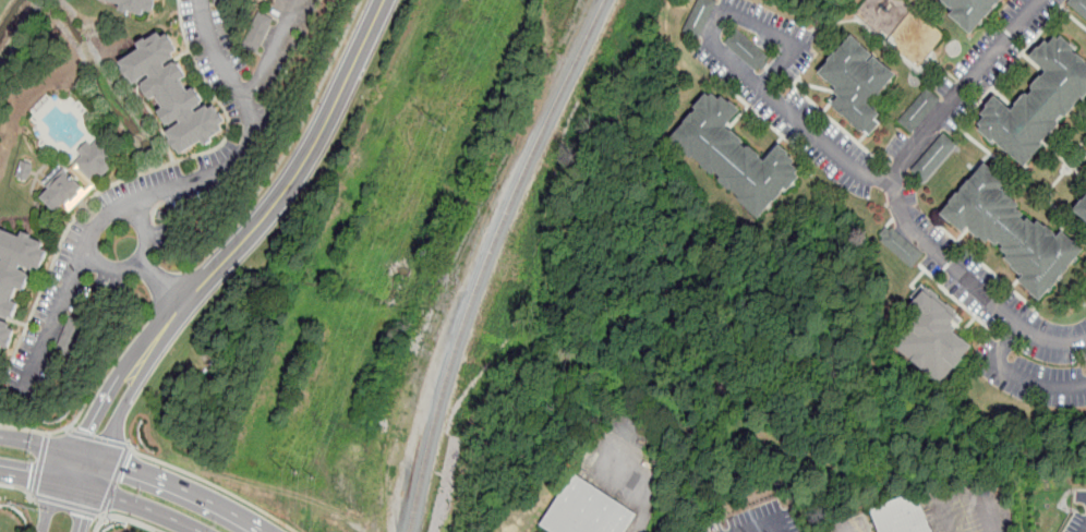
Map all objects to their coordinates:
building: (221, 2)
building: (135, 5)
building: (1078, 7)
building: (972, 12)
building: (699, 16)
park: (902, 26)
road: (769, 31)
building: (257, 32)
road: (23, 34)
park: (16, 40)
road: (270, 51)
building: (747, 51)
building: (857, 82)
building: (172, 94)
building: (1038, 104)
building: (919, 109)
road: (796, 118)
power tower: (432, 121)
road: (290, 145)
road: (312, 147)
building: (734, 155)
building: (933, 156)
building: (77, 177)
road: (165, 191)
road: (896, 198)
building: (1082, 210)
building: (162, 216)
building: (1013, 231)
building: (901, 247)
railway: (490, 259)
road: (140, 261)
road: (109, 267)
building: (16, 268)
road: (169, 288)
road: (173, 318)
building: (5, 335)
building: (933, 336)
building: (70, 337)
road: (1014, 375)
road: (135, 382)
road: (89, 396)
road: (70, 428)
traffic signals: (87, 430)
road: (47, 434)
road: (99, 438)
road: (81, 440)
road: (49, 446)
road: (39, 464)
road: (97, 464)
traffic signals: (126, 467)
power tower: (295, 472)
traffic signals: (29, 477)
road: (116, 479)
road: (45, 480)
road: (213, 484)
road: (648, 485)
road: (19, 487)
road: (184, 489)
road: (1082, 496)
road: (68, 505)
road: (146, 507)
building: (592, 511)
road: (104, 515)
traffic signals: (82, 517)
building: (908, 517)
road: (124, 518)
road: (770, 525)
road: (1084, 529)

